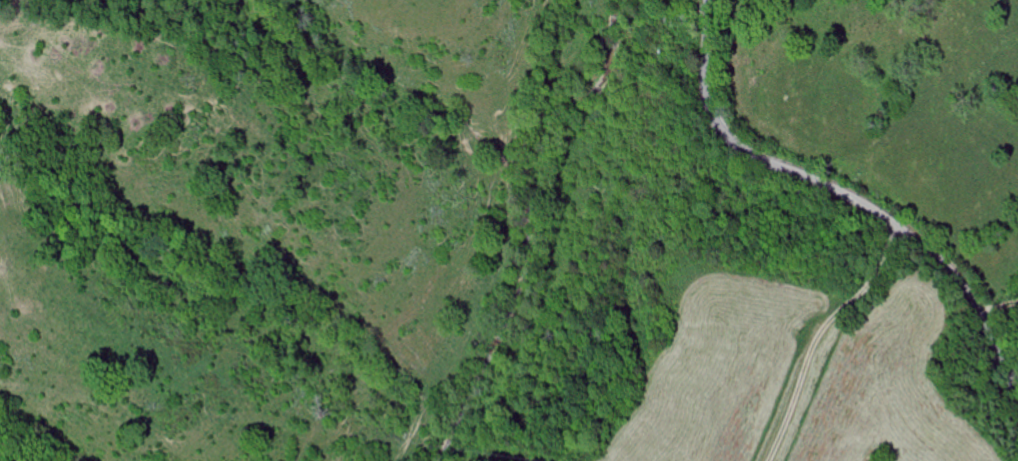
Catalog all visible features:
road: (848, 196)
road: (994, 298)
road: (815, 333)

